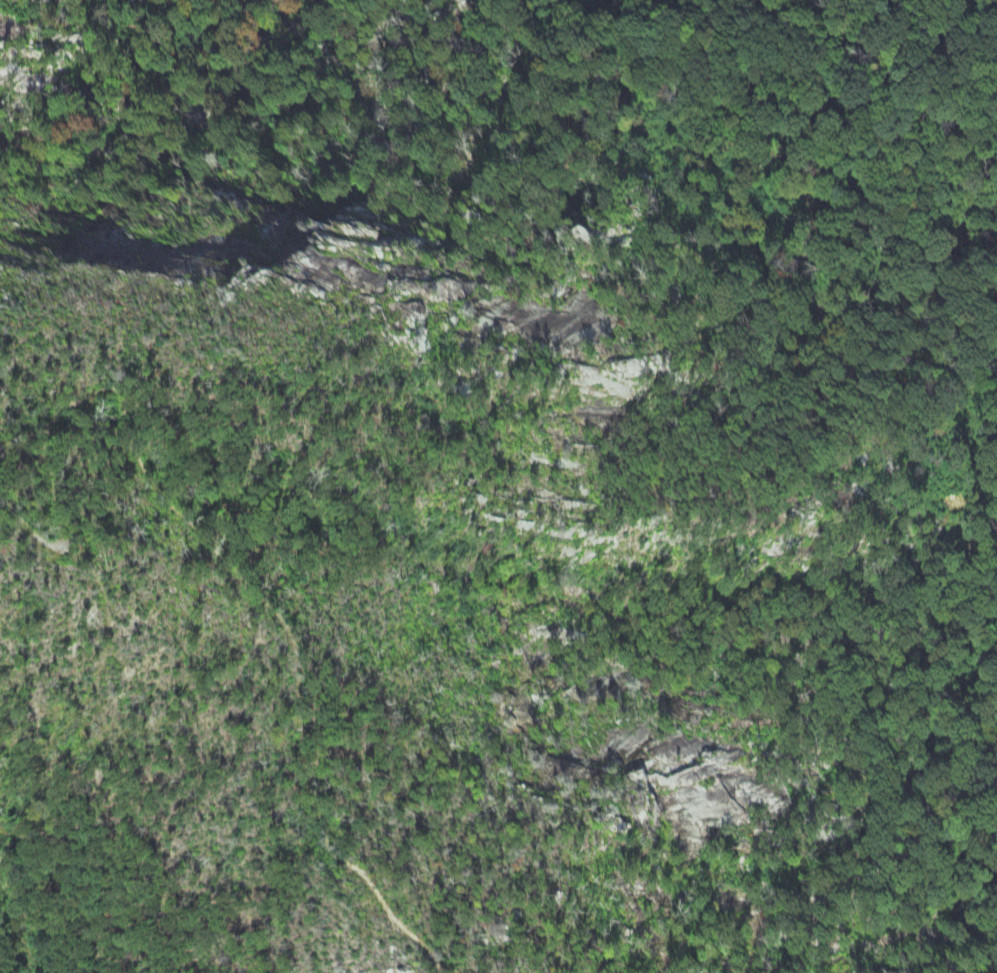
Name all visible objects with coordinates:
park: (500, 457)
road: (211, 546)

